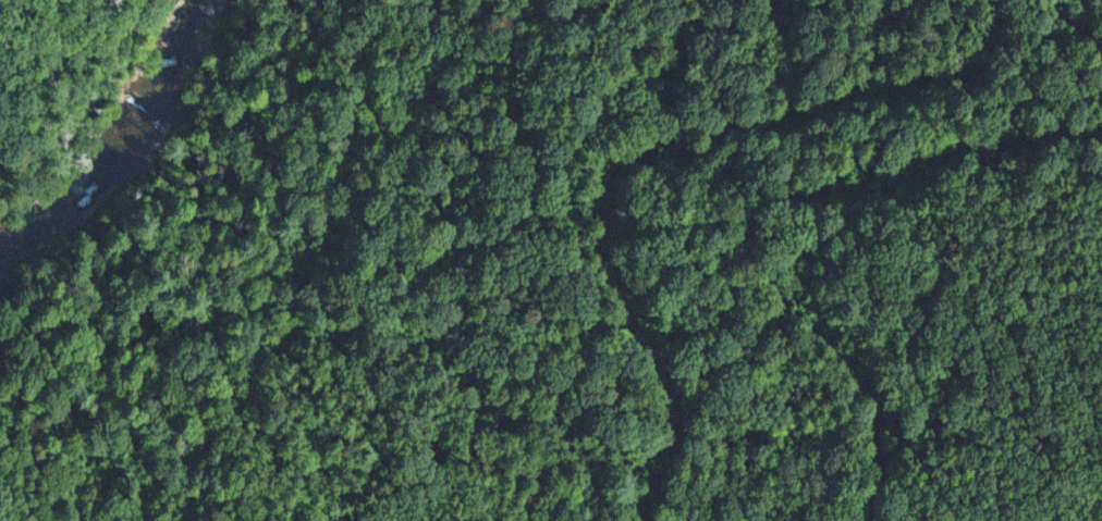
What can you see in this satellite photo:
river: (128, 144)

